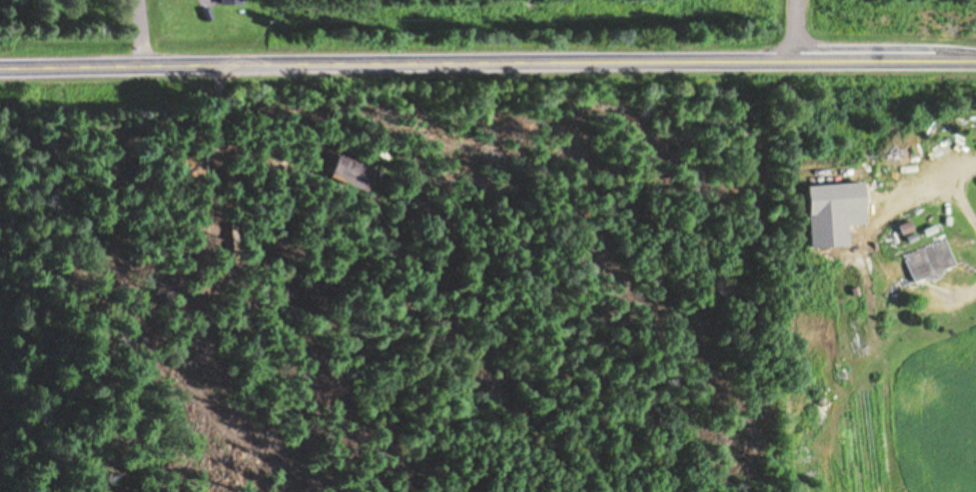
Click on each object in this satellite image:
building: (230, 2)
road: (800, 36)
road: (488, 71)
building: (348, 173)

